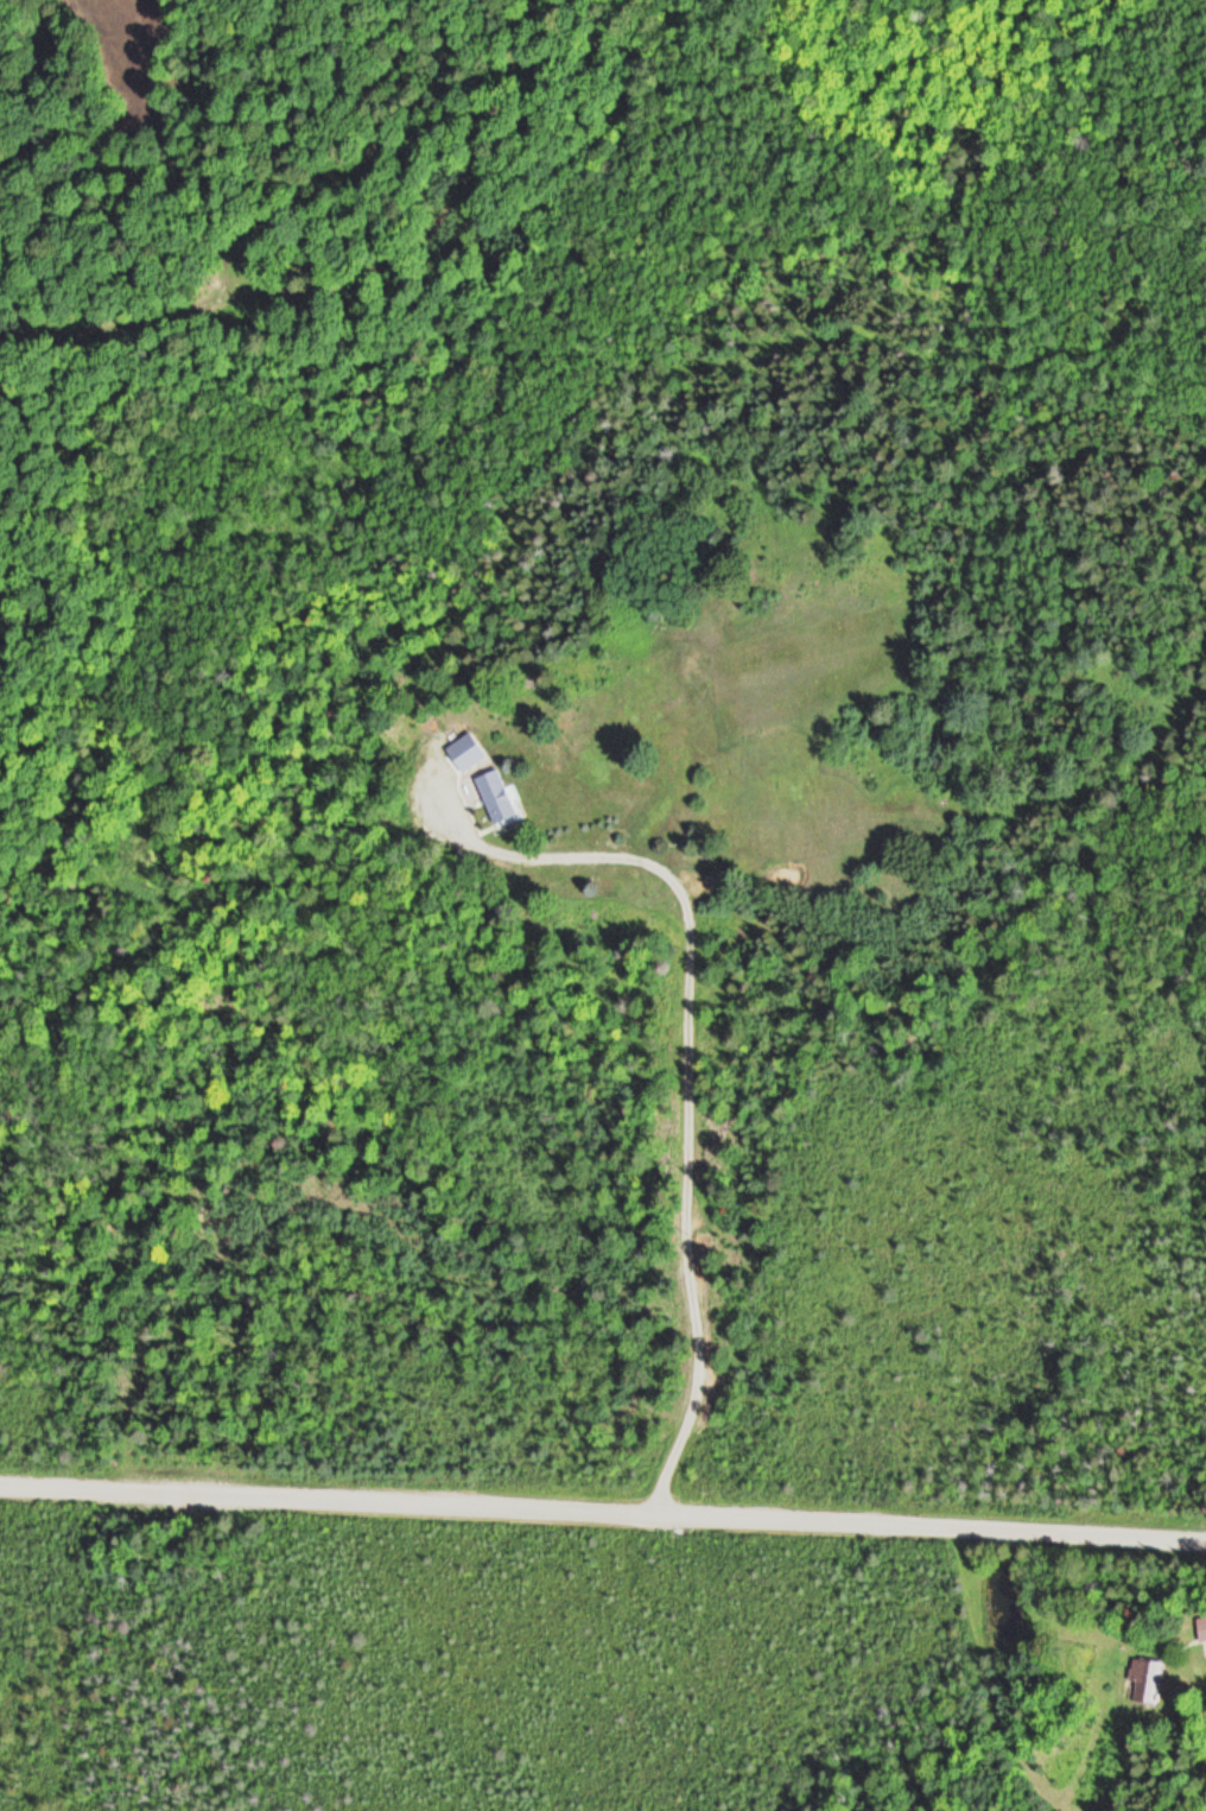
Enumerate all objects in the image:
road: (685, 1083)
road: (603, 1513)

